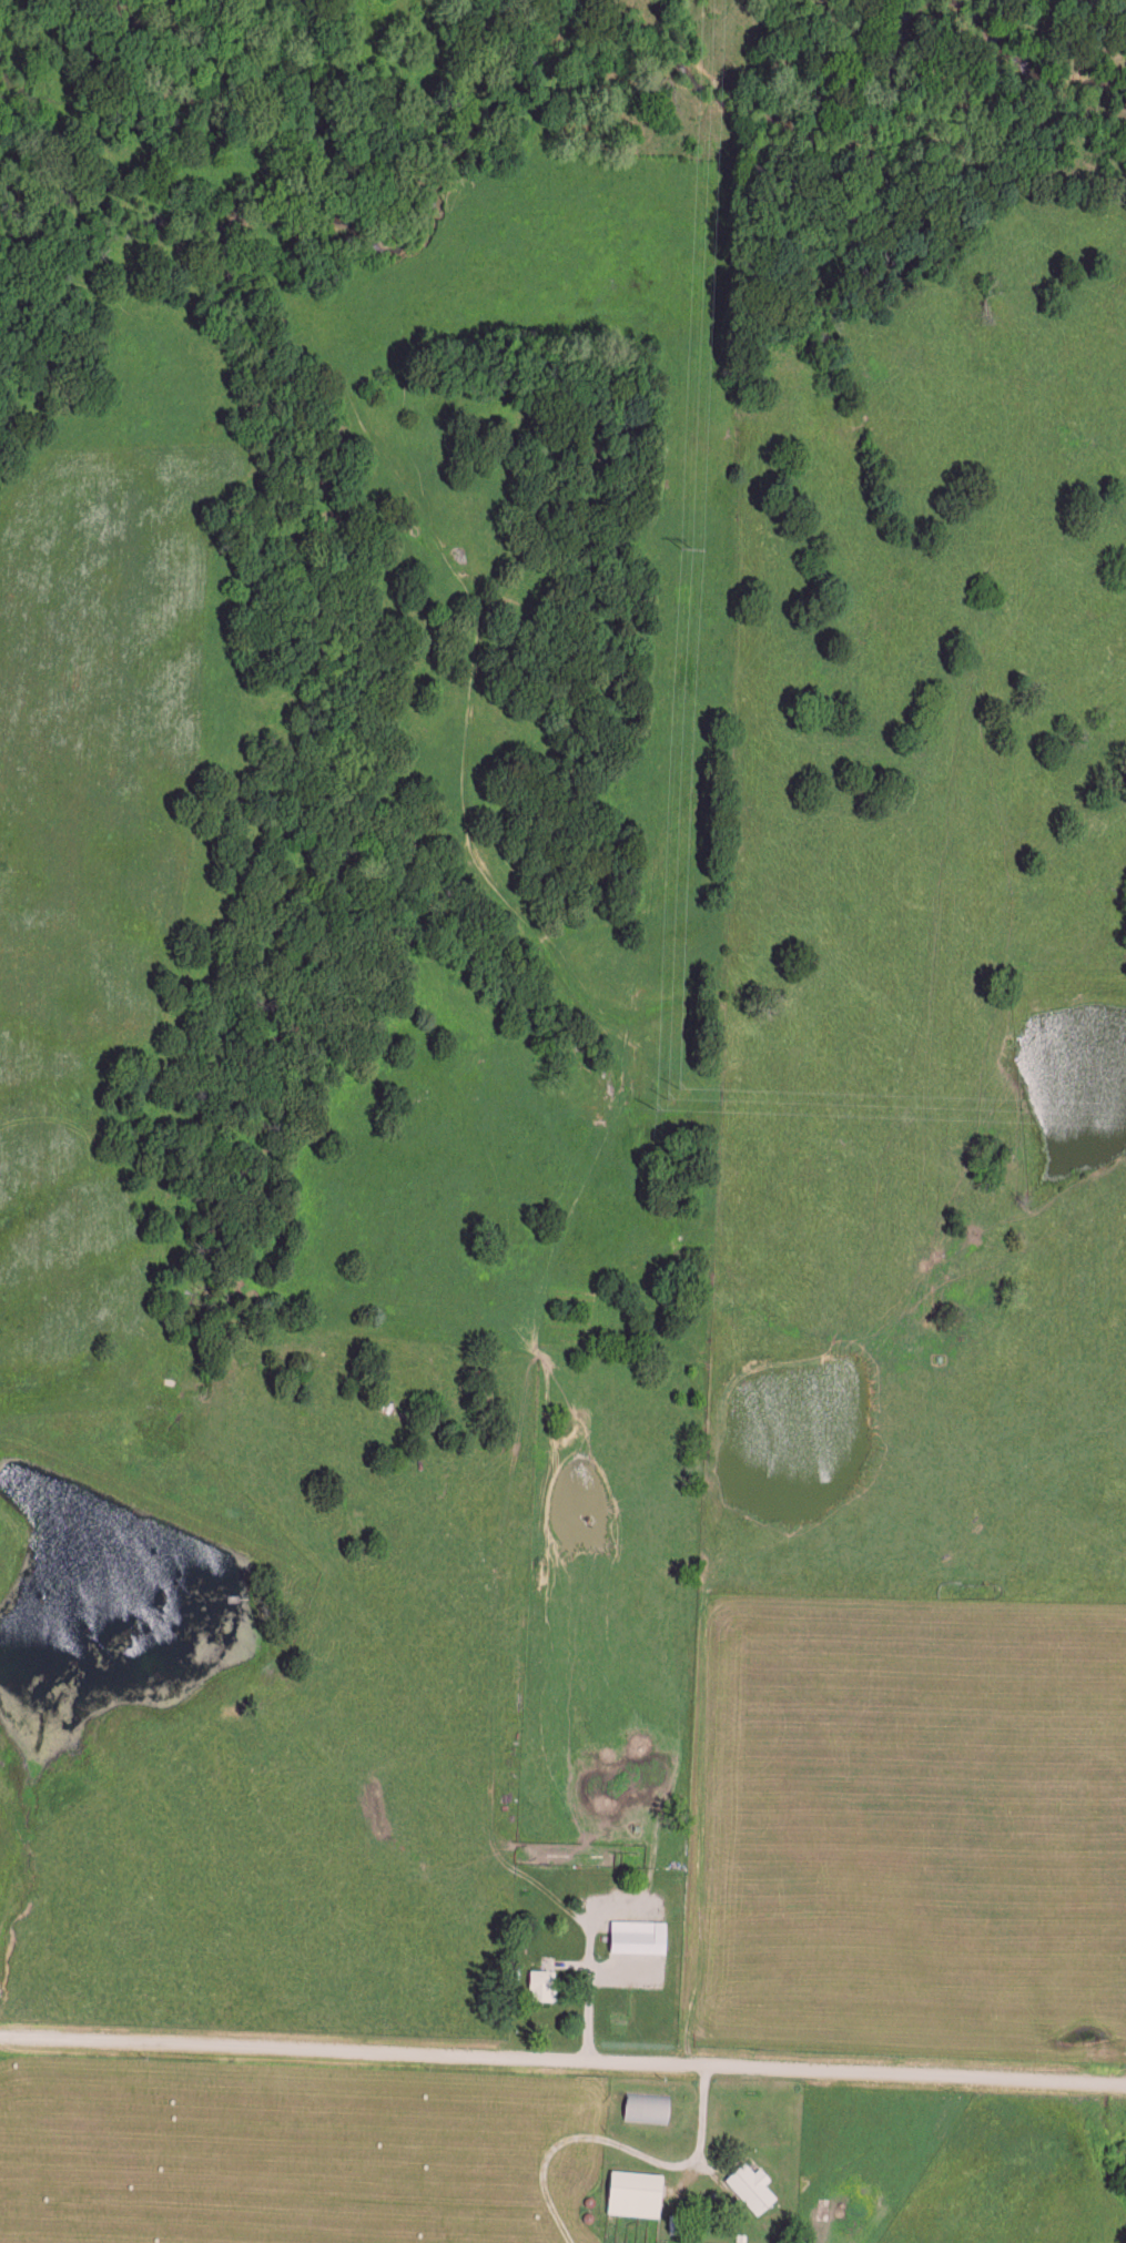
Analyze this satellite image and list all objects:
power tower: (686, 545)
power tower: (668, 1096)
road: (702, 1800)
building: (637, 1934)
building: (542, 1982)
road: (589, 1983)
road: (562, 2063)
building: (646, 2105)
road: (681, 2165)
building: (751, 2184)
building: (635, 2191)

